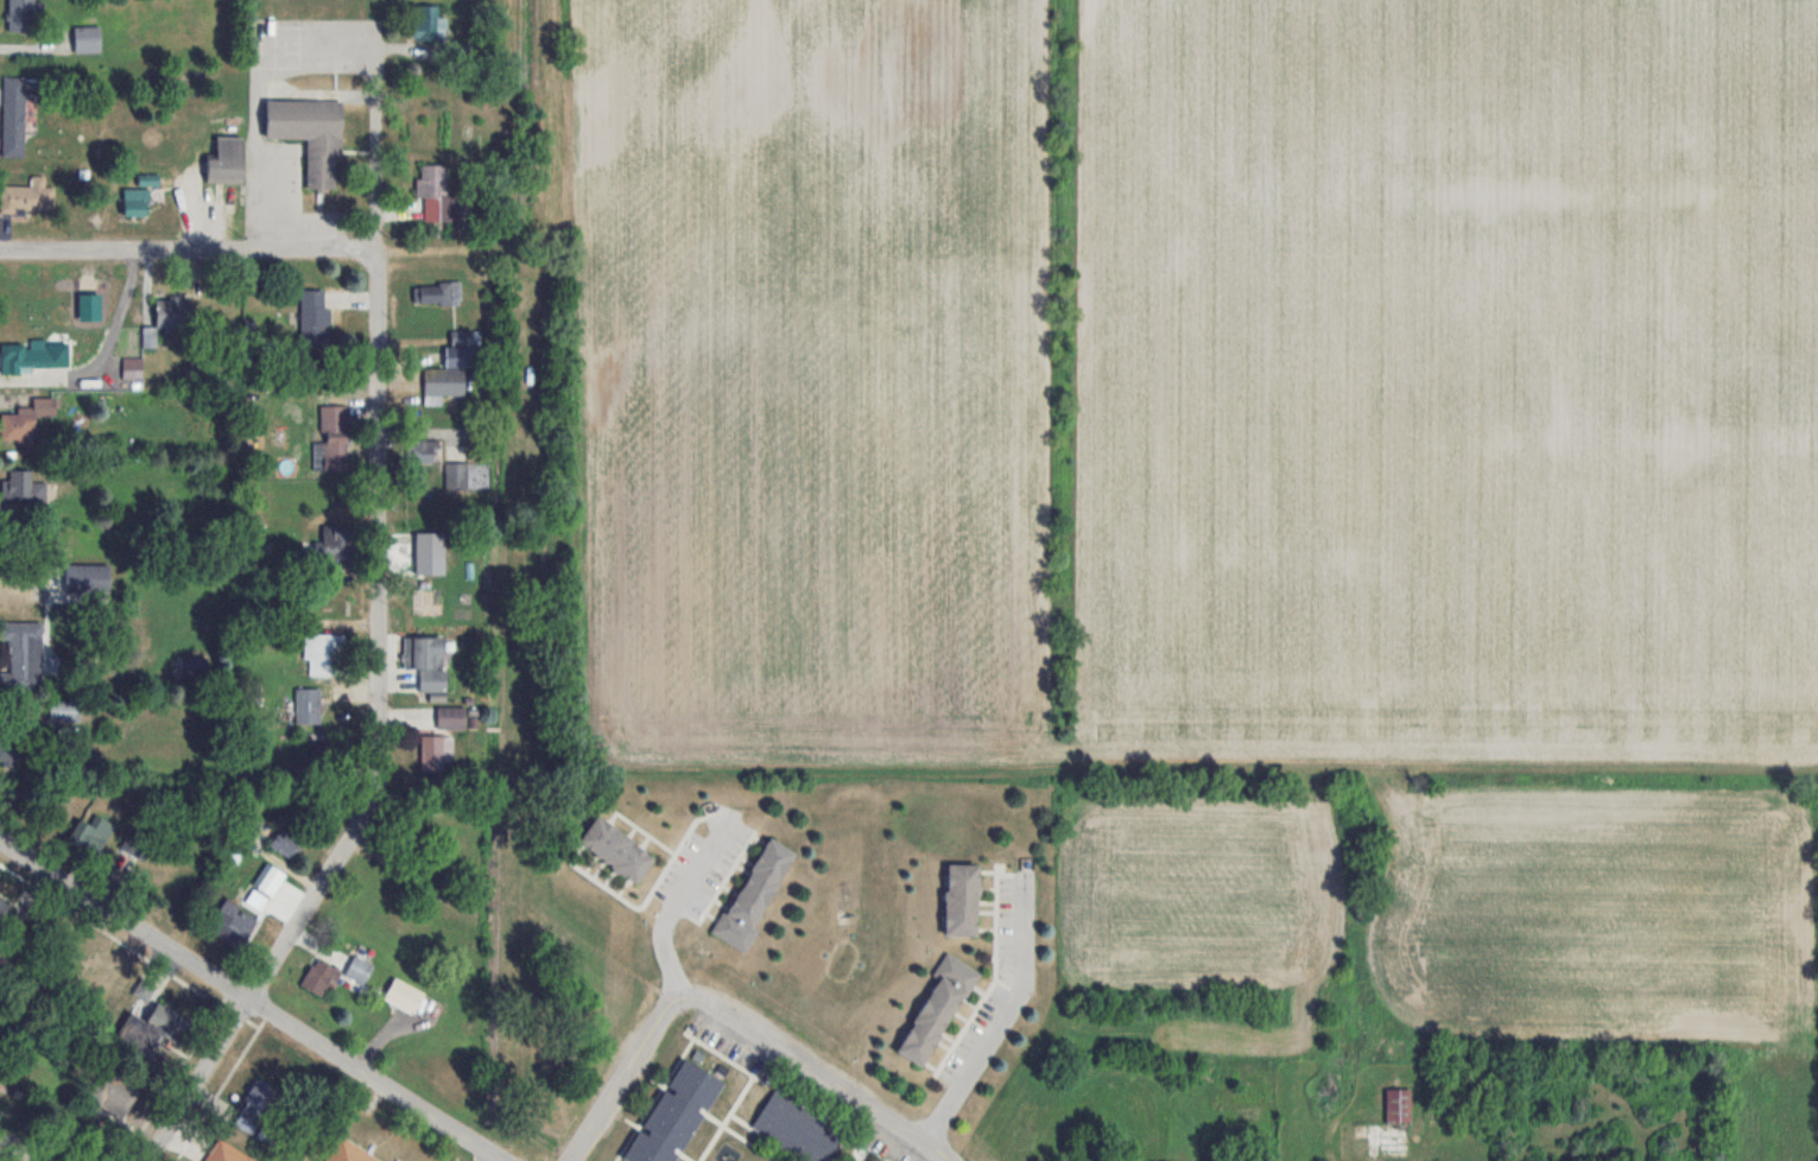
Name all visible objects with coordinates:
building: (21, 7)
building: (430, 23)
building: (87, 39)
road: (245, 97)
building: (13, 115)
building: (310, 135)
road: (366, 140)
building: (226, 161)
building: (430, 182)
building: (23, 197)
building: (135, 202)
road: (189, 246)
building: (441, 293)
building: (170, 312)
building: (313, 315)
building: (34, 354)
crop: (1198, 381)
building: (443, 382)
building: (19, 425)
building: (335, 437)
building: (423, 451)
building: (456, 476)
building: (23, 487)
building: (334, 541)
building: (416, 546)
building: (87, 578)
building: (423, 590)
building: (318, 654)
building: (429, 662)
building: (21, 674)
building: (308, 706)
building: (63, 711)
building: (451, 717)
road: (378, 736)
building: (11, 747)
building: (437, 753)
building: (96, 836)
building: (287, 842)
building: (132, 850)
building: (615, 850)
building: (268, 880)
crop: (1199, 889)
building: (754, 894)
building: (961, 899)
building: (1, 902)
crop: (1602, 915)
building: (235, 921)
road: (654, 924)
building: (97, 967)
building: (357, 969)
building: (318, 977)
road: (254, 998)
building: (937, 1009)
road: (1001, 1019)
building: (144, 1028)
road: (792, 1051)
building: (113, 1091)
road: (606, 1105)
building: (255, 1106)
building: (672, 1112)
building: (794, 1129)
building: (1381, 1129)
road: (23, 1146)
building: (224, 1153)

